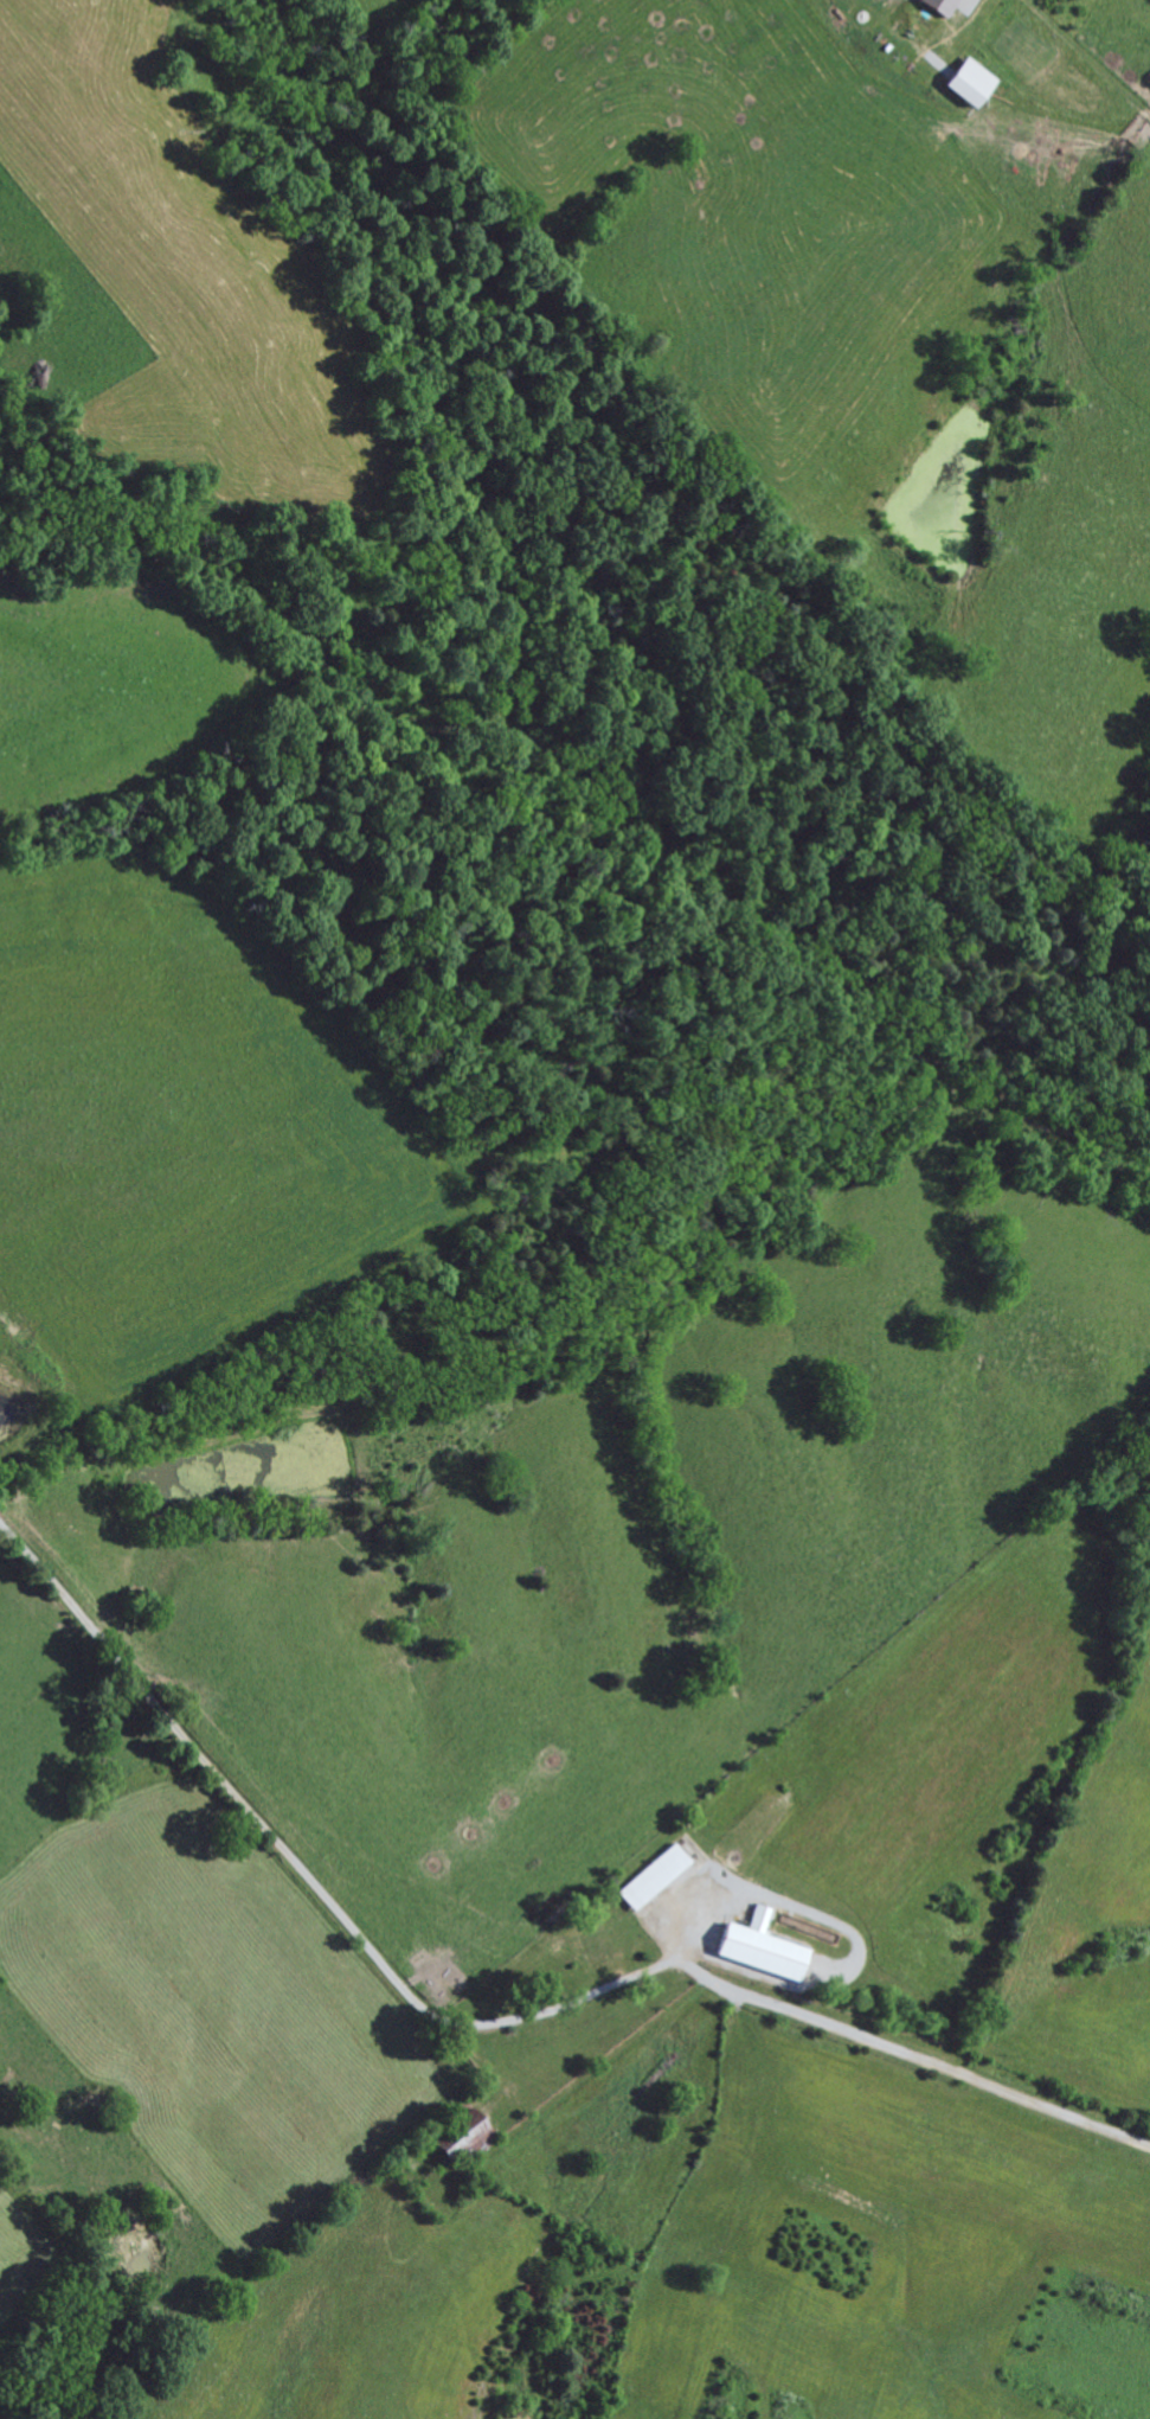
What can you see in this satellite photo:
road: (218, 1772)
building: (650, 1874)
building: (758, 1944)
road: (597, 1991)
building: (461, 2133)

